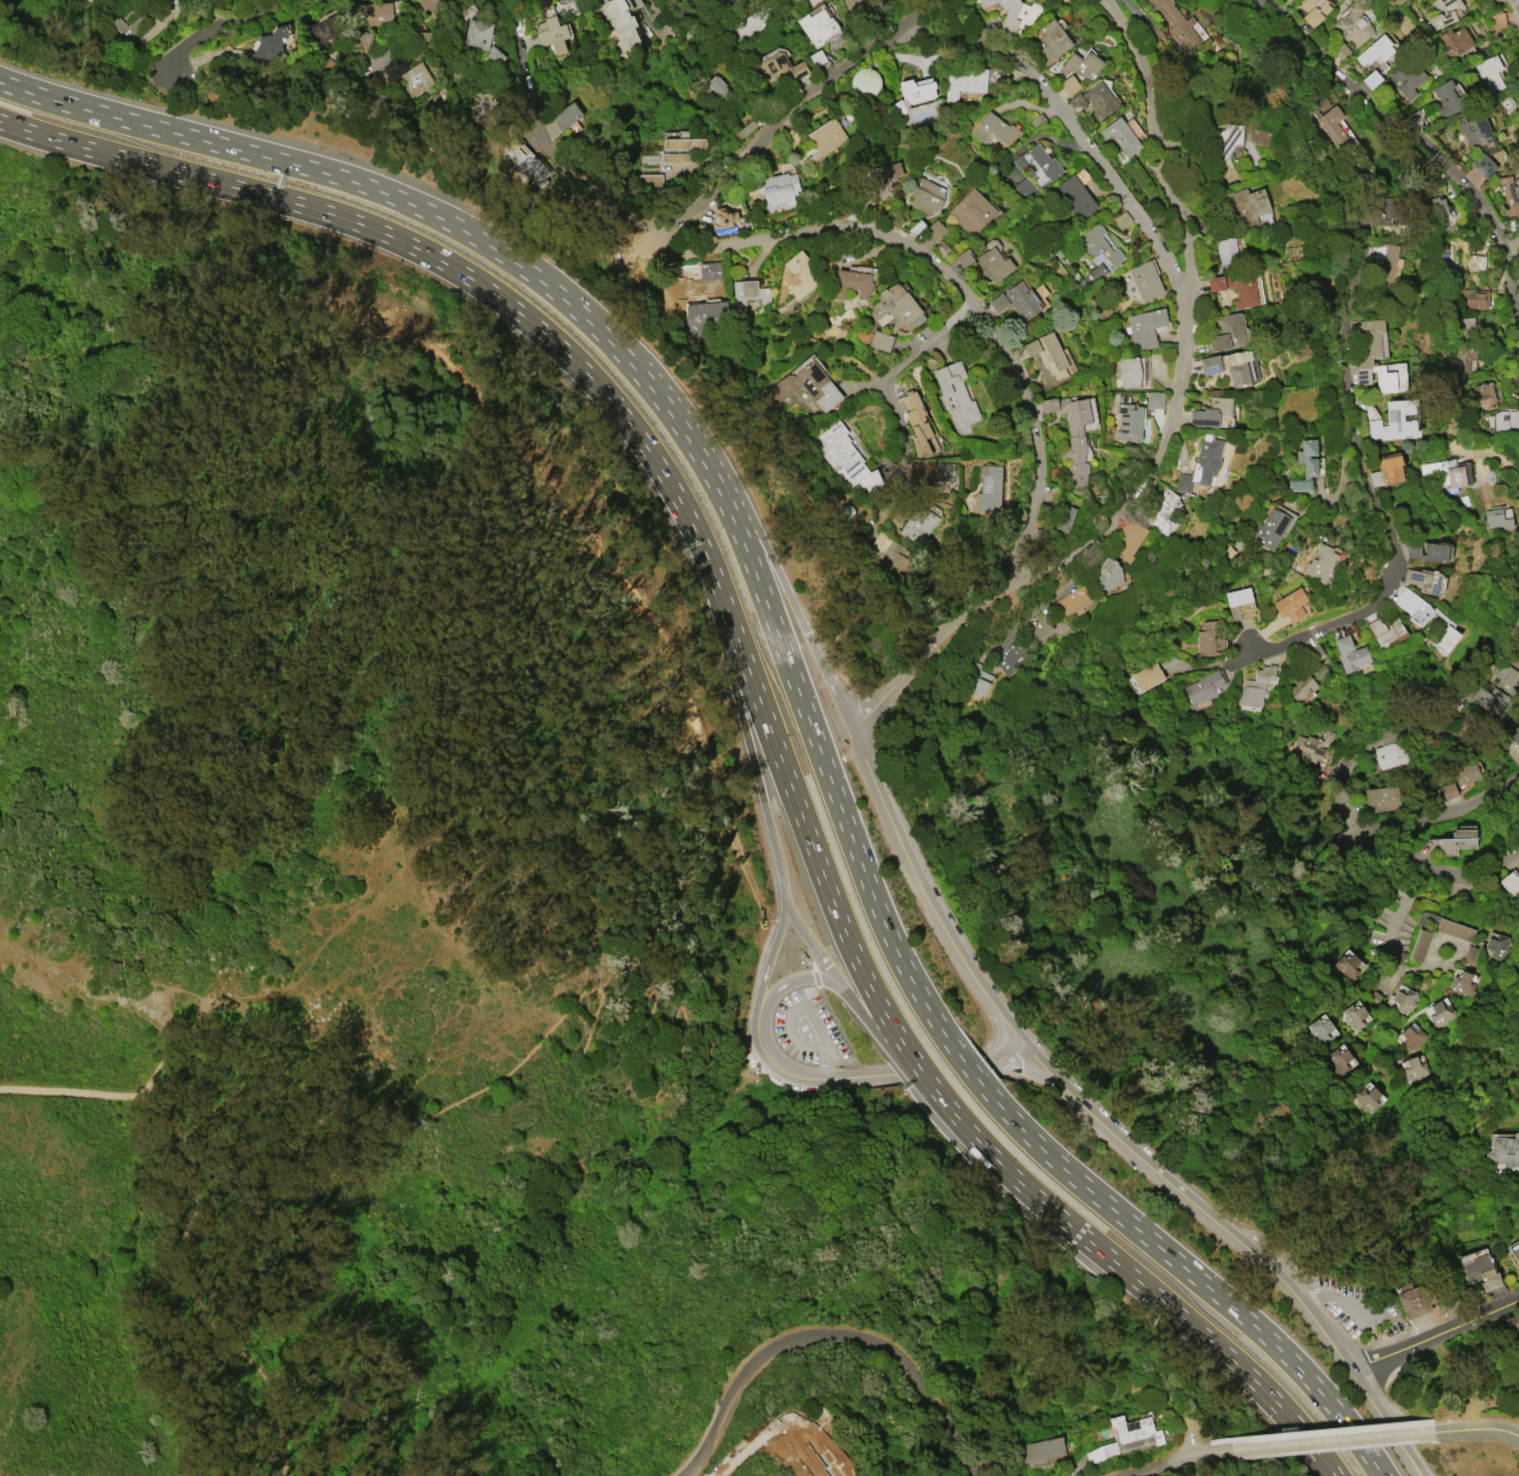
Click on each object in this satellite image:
building: (173, 1)
road: (1518, 1)
building: (430, 4)
building: (858, 4)
building: (1313, 10)
building: (1445, 12)
building: (377, 13)
building: (1013, 13)
road: (684, 18)
building: (1497, 19)
road: (225, 23)
building: (620, 23)
building: (750, 24)
building: (1353, 24)
building: (1176, 25)
building: (818, 26)
building: (129, 27)
building: (329, 30)
building: (553, 34)
building: (362, 37)
building: (423, 40)
building: (483, 40)
building: (1051, 41)
building: (1452, 41)
building: (268, 47)
building: (1377, 49)
road: (197, 60)
building: (1081, 64)
building: (782, 67)
building: (1489, 72)
building: (1407, 79)
building: (416, 80)
building: (864, 80)
building: (966, 82)
building: (1069, 84)
building: (718, 86)
building: (1447, 97)
building: (1094, 100)
building: (930, 104)
building: (482, 106)
road: (783, 111)
building: (567, 116)
road: (1418, 117)
building: (1332, 124)
road: (1072, 127)
building: (995, 129)
building: (1477, 132)
road: (537, 135)
building: (1120, 135)
building: (825, 140)
building: (671, 158)
building: (530, 162)
building: (1483, 165)
building: (1036, 170)
road: (342, 177)
building: (881, 181)
building: (777, 189)
building: (1074, 195)
building: (928, 196)
building: (1508, 196)
building: (1248, 205)
building: (972, 211)
building: (1440, 212)
building: (723, 219)
building: (935, 230)
building: (1226, 251)
road: (427, 253)
building: (1098, 254)
building: (1383, 260)
building: (995, 264)
building: (709, 270)
building: (801, 274)
building: (1145, 280)
building: (852, 284)
road: (958, 285)
building: (1236, 286)
building: (749, 294)
building: (1473, 298)
building: (1018, 300)
building: (897, 307)
building: (705, 314)
building: (1145, 327)
building: (1227, 332)
building: (880, 340)
building: (1047, 353)
building: (1370, 355)
building: (1464, 356)
road: (904, 357)
building: (1232, 366)
building: (1130, 372)
road: (1343, 372)
road: (643, 379)
building: (821, 389)
building: (1484, 394)
building: (957, 396)
building: (1154, 399)
building: (1213, 413)
building: (917, 420)
building: (1394, 420)
building: (1503, 421)
building: (1128, 422)
road: (1170, 425)
building: (1072, 436)
building: (847, 459)
building: (1201, 465)
building: (1304, 465)
building: (1387, 470)
building: (1449, 473)
road: (1345, 476)
building: (989, 489)
building: (1161, 511)
building: (1064, 516)
building: (1496, 518)
building: (1270, 528)
building: (919, 529)
building: (1128, 539)
road: (765, 547)
building: (1428, 551)
building: (887, 555)
building: (1320, 562)
road: (1087, 571)
building: (1107, 574)
building: (1422, 579)
building: (1073, 600)
building: (1239, 602)
building: (1290, 604)
building: (1411, 605)
building: (1056, 621)
building: (1037, 629)
building: (1384, 629)
building: (1446, 637)
building: (1209, 639)
building: (1350, 653)
building: (1009, 655)
building: (1147, 675)
building: (1505, 676)
building: (980, 683)
building: (1204, 686)
building: (1255, 686)
building: (1301, 686)
building: (1491, 700)
road: (1429, 708)
building: (1515, 733)
road: (746, 739)
building: (1307, 747)
building: (1391, 753)
building: (1466, 773)
building: (1448, 791)
building: (1382, 798)
road: (1431, 811)
building: (1456, 841)
road: (811, 843)
road: (1414, 869)
building: (1509, 881)
road: (1408, 898)
building: (1445, 926)
building: (1419, 944)
building: (1497, 945)
road: (821, 957)
road: (767, 962)
building: (1347, 965)
road: (1425, 967)
road: (1396, 972)
road: (804, 977)
building: (1461, 983)
road: (586, 991)
building: (1374, 995)
road: (920, 997)
building: (1404, 999)
road: (995, 1010)
building: (1439, 1013)
road: (791, 1015)
building: (1353, 1016)
road: (840, 1028)
parking lot: (807, 1029)
building: (1320, 1030)
road: (991, 1036)
building: (1411, 1038)
road: (173, 1048)
road: (899, 1055)
road: (1005, 1055)
road: (825, 1060)
building: (1337, 1060)
road: (780, 1067)
building: (1413, 1068)
road: (859, 1075)
building: (1367, 1098)
building: (1504, 1151)
road: (187, 1220)
building: (1515, 1255)
road: (1266, 1267)
building: (1480, 1271)
road: (1138, 1281)
road: (1333, 1297)
building: (1415, 1299)
parking lot: (1356, 1308)
building: (1508, 1328)
road: (829, 1334)
road: (1436, 1336)
building: (1368, 1341)
road: (1355, 1380)
road: (1477, 1428)
road: (1516, 1432)
building: (1126, 1436)
road: (1321, 1440)
road: (1187, 1441)
building: (1041, 1448)
road: (1183, 1457)
road: (1412, 1466)
road: (1415, 1466)
road: (1140, 1470)

